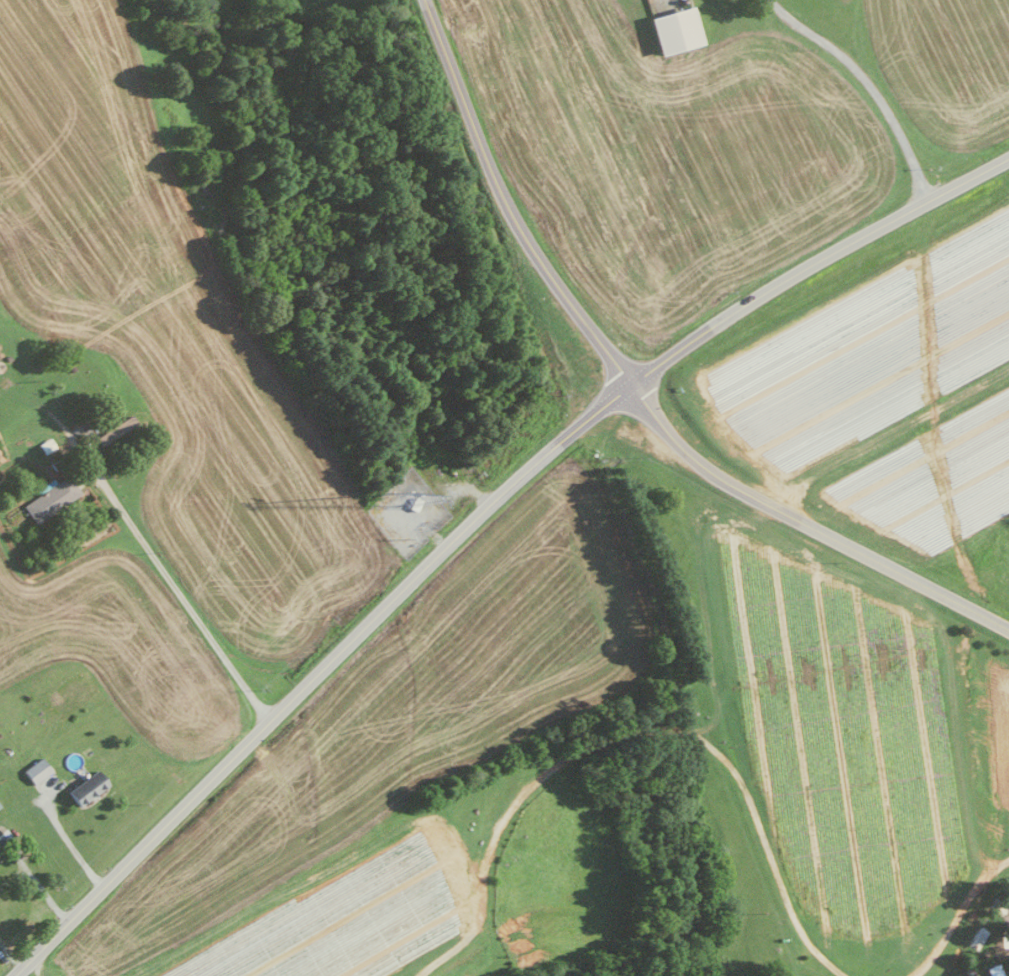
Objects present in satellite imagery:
building: (671, 28)
road: (865, 83)
road: (503, 205)
building: (114, 428)
building: (48, 497)
road: (473, 518)
road: (805, 524)
road: (164, 578)
building: (83, 787)
road: (66, 839)

